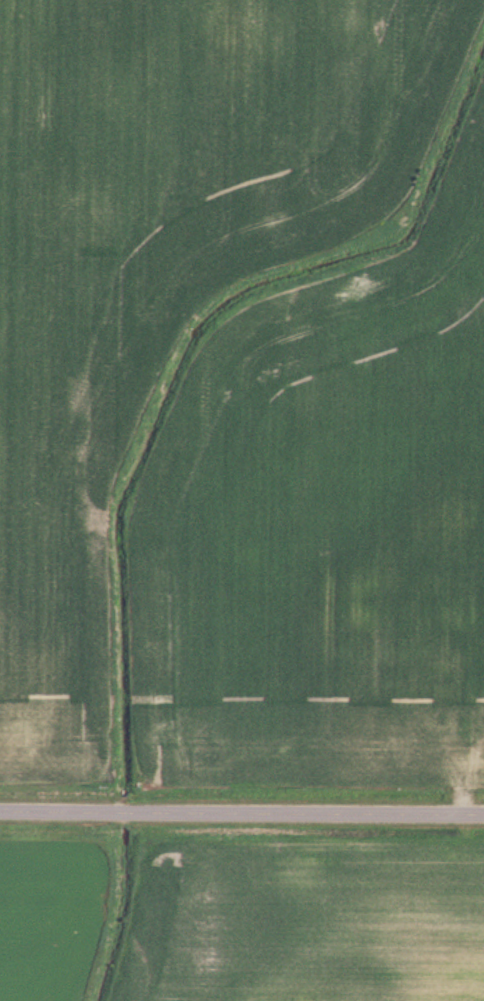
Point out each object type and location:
road: (241, 813)

